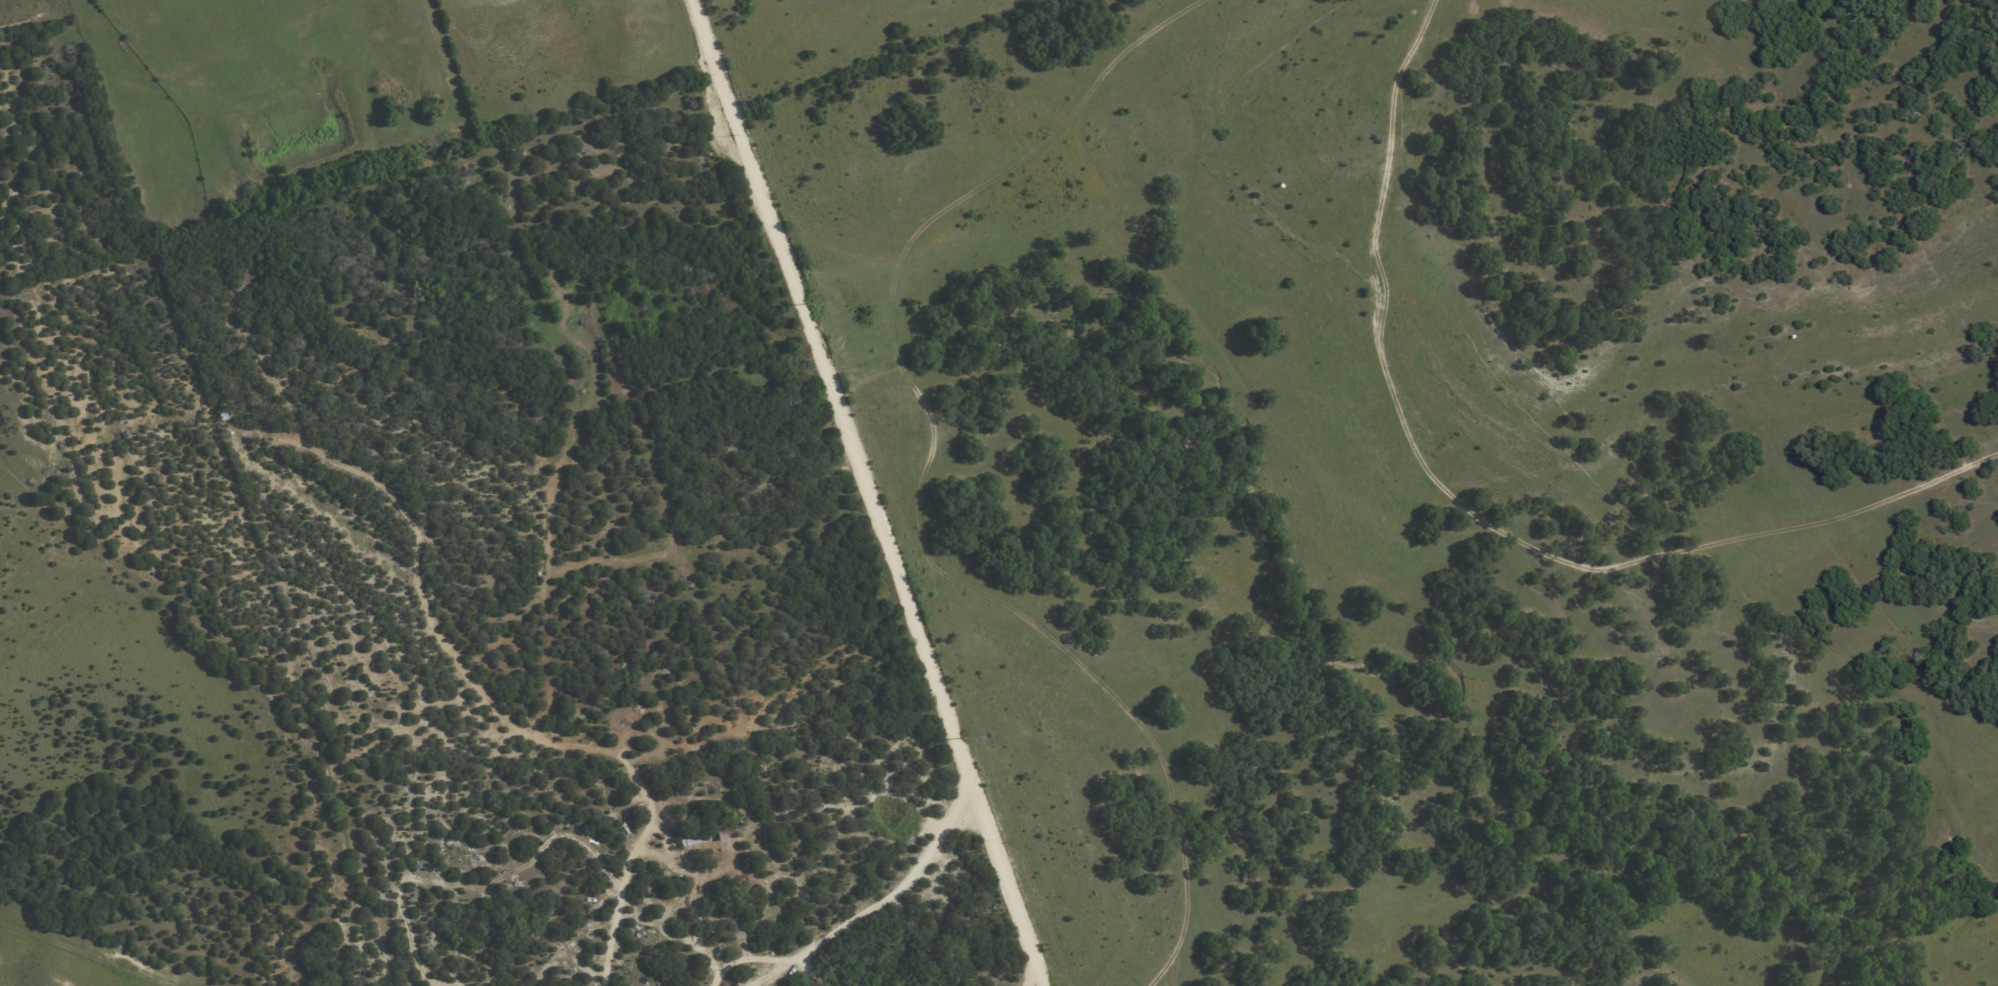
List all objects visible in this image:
power tower: (807, 304)
road: (823, 376)
power tower: (962, 736)
road: (999, 868)
road: (903, 886)
road: (1036, 978)

